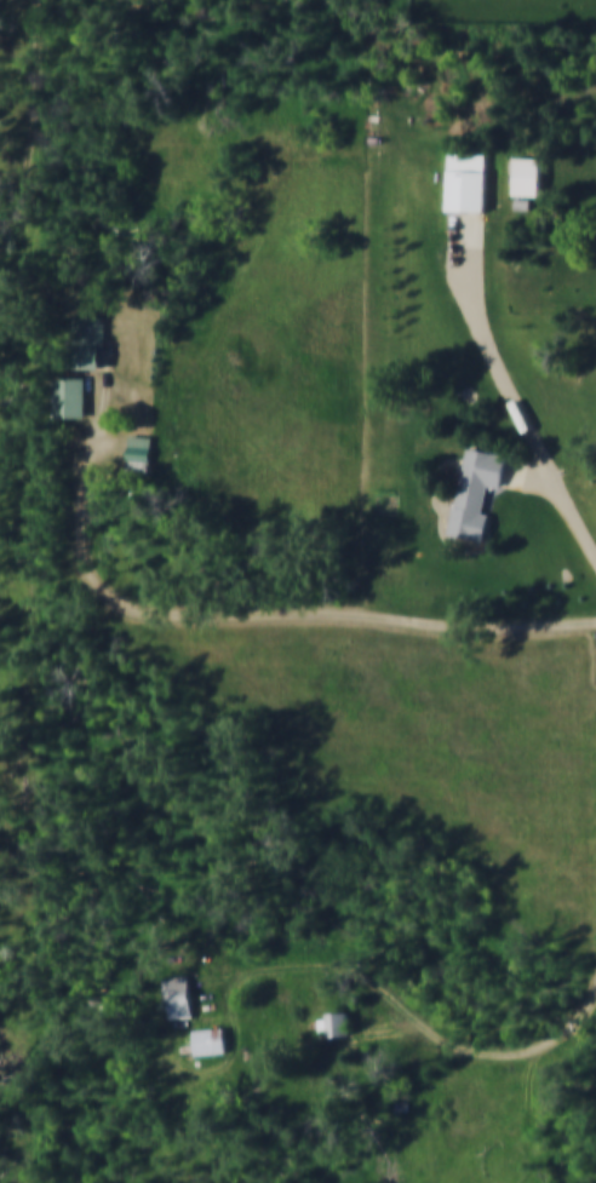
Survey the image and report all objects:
road: (33, 128)
building: (532, 184)
building: (469, 185)
building: (94, 349)
building: (70, 403)
road: (522, 415)
building: (144, 458)
road: (533, 479)
building: (478, 498)
road: (247, 610)
building: (184, 997)
road: (419, 1015)
building: (342, 1023)
building: (216, 1039)

